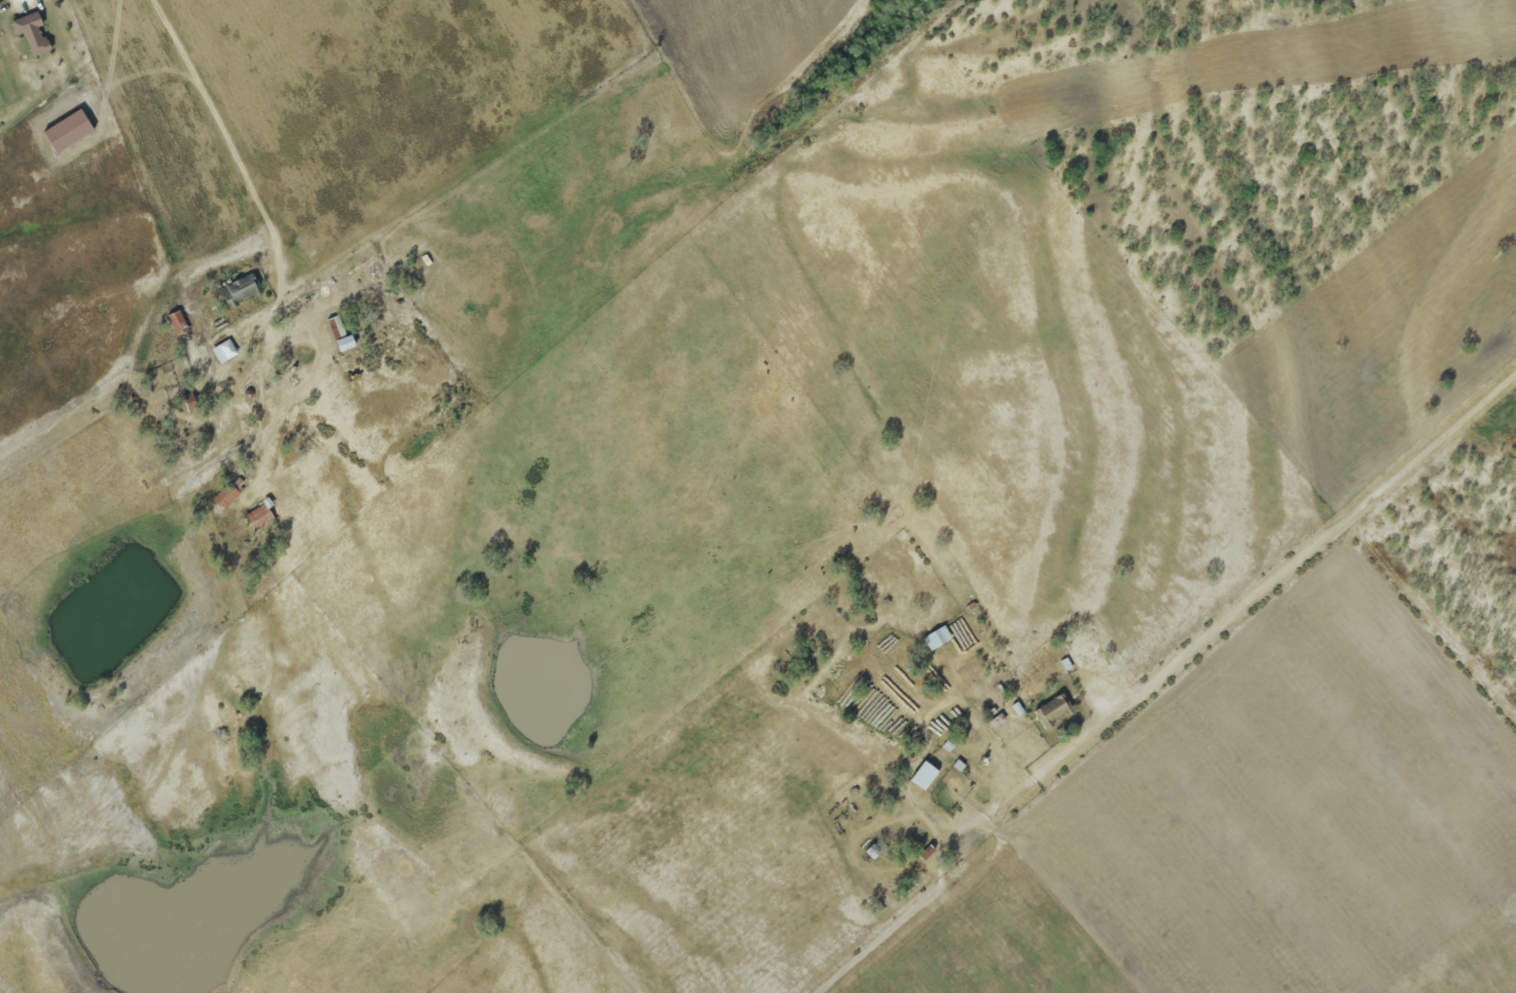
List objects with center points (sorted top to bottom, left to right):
road: (22, 1)
building: (31, 33)
road: (220, 126)
building: (240, 289)
building: (344, 343)
building: (224, 351)
building: (229, 494)
building: (259, 518)
road: (1245, 601)
building: (937, 638)
building: (1052, 711)
building: (923, 776)

